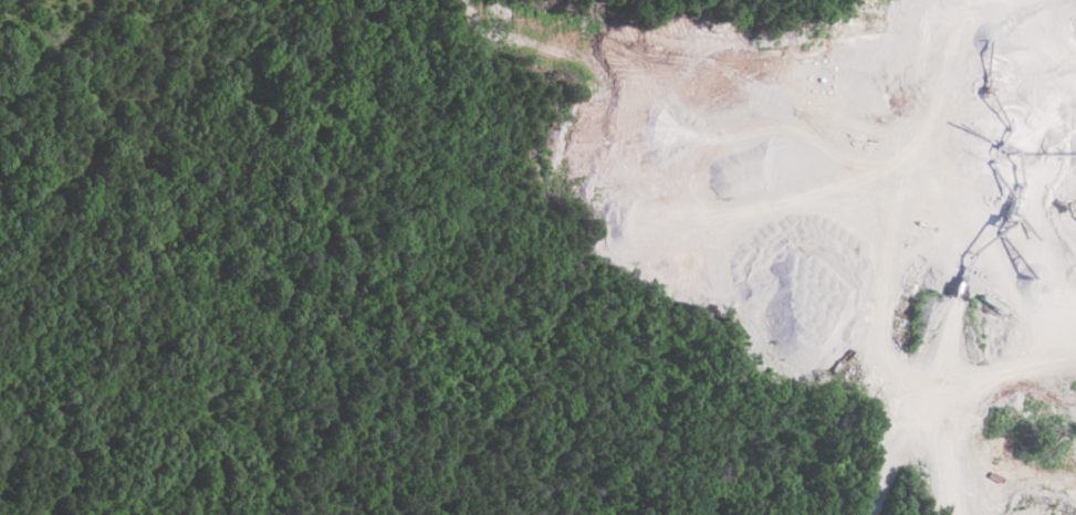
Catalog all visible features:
road: (897, 179)
quarry: (888, 253)
road: (1040, 367)
road: (952, 389)
road: (892, 460)

